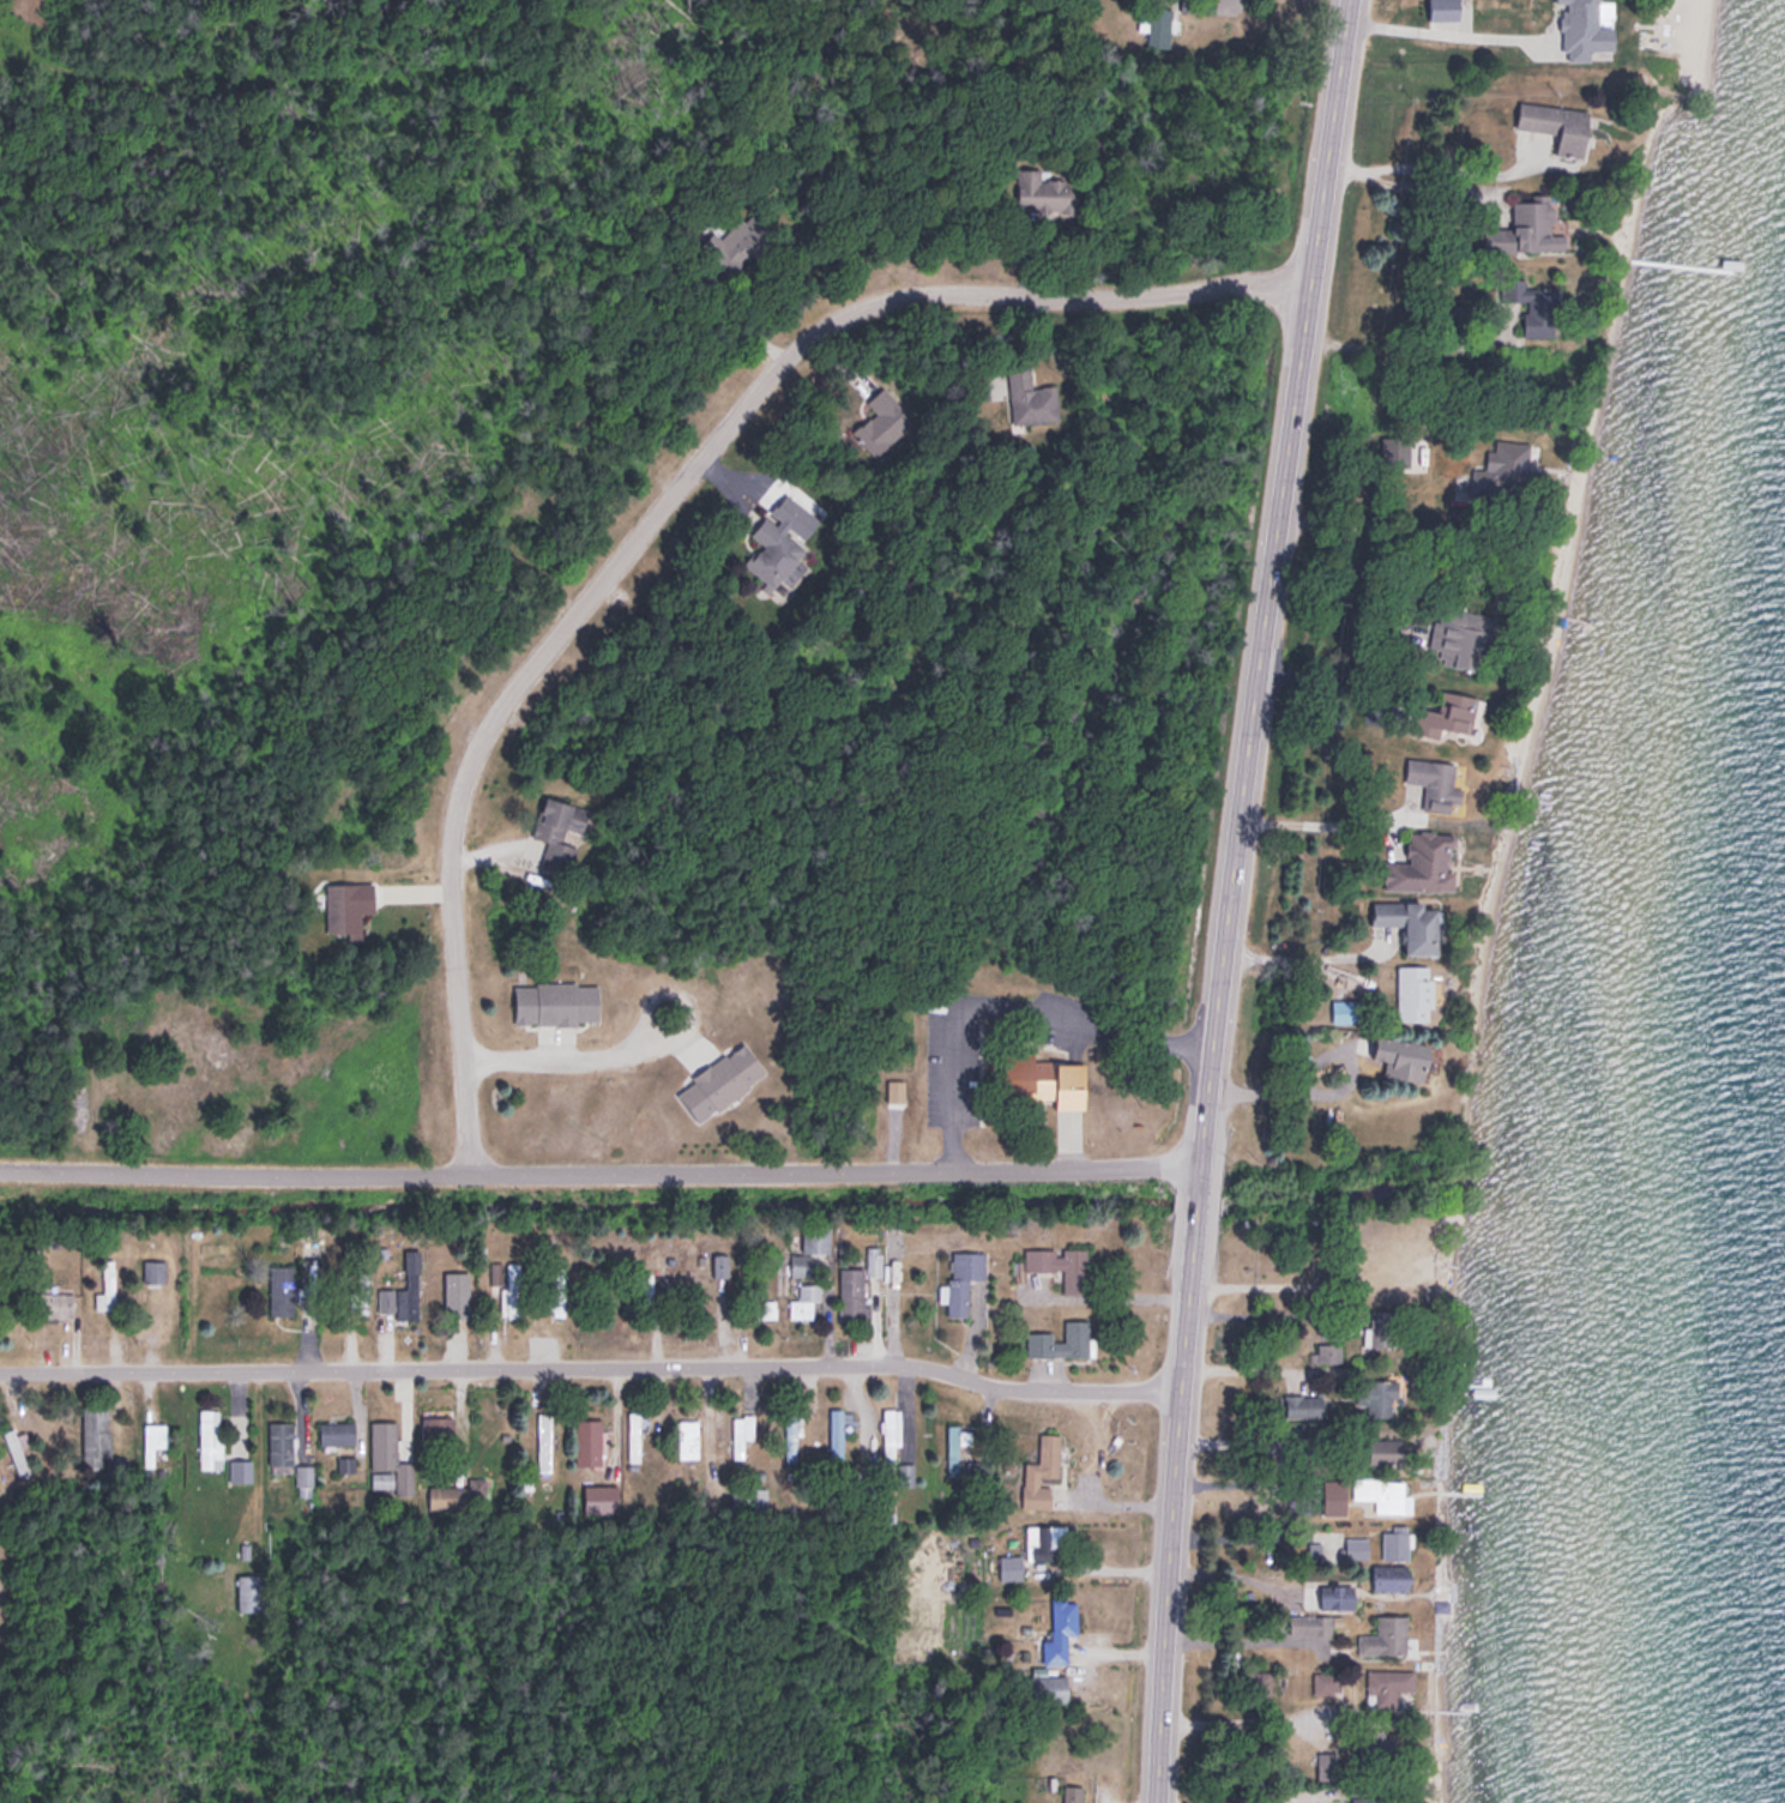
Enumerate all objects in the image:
building: (1159, 28)
road: (1433, 29)
building: (1585, 29)
building: (1556, 125)
building: (1043, 192)
building: (1536, 225)
building: (737, 245)
building: (1543, 307)
building: (1030, 397)
building: (875, 416)
building: (1504, 466)
road: (662, 506)
building: (776, 553)
building: (1459, 634)
building: (1454, 710)
building: (1441, 786)
building: (557, 830)
building: (1424, 862)
road: (1229, 899)
building: (346, 905)
building: (1411, 922)
building: (1415, 990)
building: (556, 1002)
building: (1347, 1009)
building: (1403, 1056)
building: (1050, 1078)
road: (599, 1174)
building: (809, 1246)
building: (718, 1262)
building: (1060, 1264)
building: (153, 1272)
building: (963, 1277)
building: (294, 1282)
building: (506, 1284)
building: (107, 1285)
building: (655, 1288)
building: (404, 1289)
building: (356, 1291)
building: (555, 1292)
building: (852, 1292)
building: (459, 1295)
building: (803, 1297)
building: (55, 1303)
building: (1380, 1326)
building: (1039, 1334)
building: (1328, 1350)
road: (592, 1364)
building: (1381, 1394)
building: (1303, 1405)
building: (436, 1430)
building: (741, 1430)
building: (337, 1431)
building: (836, 1431)
building: (890, 1431)
building: (633, 1434)
building: (207, 1435)
building: (791, 1436)
building: (152, 1437)
building: (687, 1437)
building: (98, 1439)
building: (543, 1440)
building: (587, 1440)
building: (279, 1442)
building: (954, 1446)
building: (1386, 1449)
building: (14, 1451)
building: (388, 1458)
building: (345, 1463)
building: (240, 1470)
building: (1041, 1471)
building: (905, 1472)
building: (303, 1479)
building: (454, 1494)
building: (1379, 1494)
building: (749, 1496)
building: (601, 1497)
building: (1045, 1540)
building: (1394, 1542)
building: (1356, 1545)
building: (1011, 1566)
building: (1391, 1576)
building: (251, 1591)
building: (1328, 1596)
building: (1309, 1623)
building: (1060, 1629)
building: (1385, 1635)
building: (1327, 1681)
building: (1387, 1684)
building: (1049, 1688)
building: (1374, 1739)
building: (1327, 1763)
building: (1072, 1793)
building: (1369, 1799)

